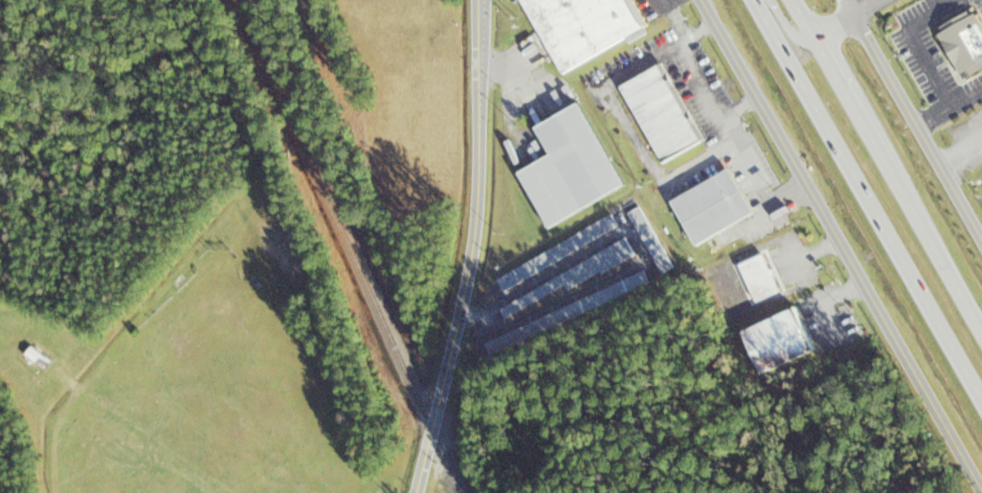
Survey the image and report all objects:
road: (865, 6)
road: (803, 18)
road: (834, 24)
road: (787, 26)
building: (582, 27)
building: (964, 42)
road: (841, 84)
building: (661, 112)
road: (914, 118)
building: (568, 166)
road: (868, 198)
building: (711, 206)
railway: (337, 213)
road: (477, 215)
road: (925, 230)
building: (651, 240)
road: (841, 244)
building: (558, 252)
building: (613, 256)
building: (759, 278)
building: (530, 298)
building: (597, 299)
building: (33, 354)
road: (426, 460)
railway: (447, 460)

